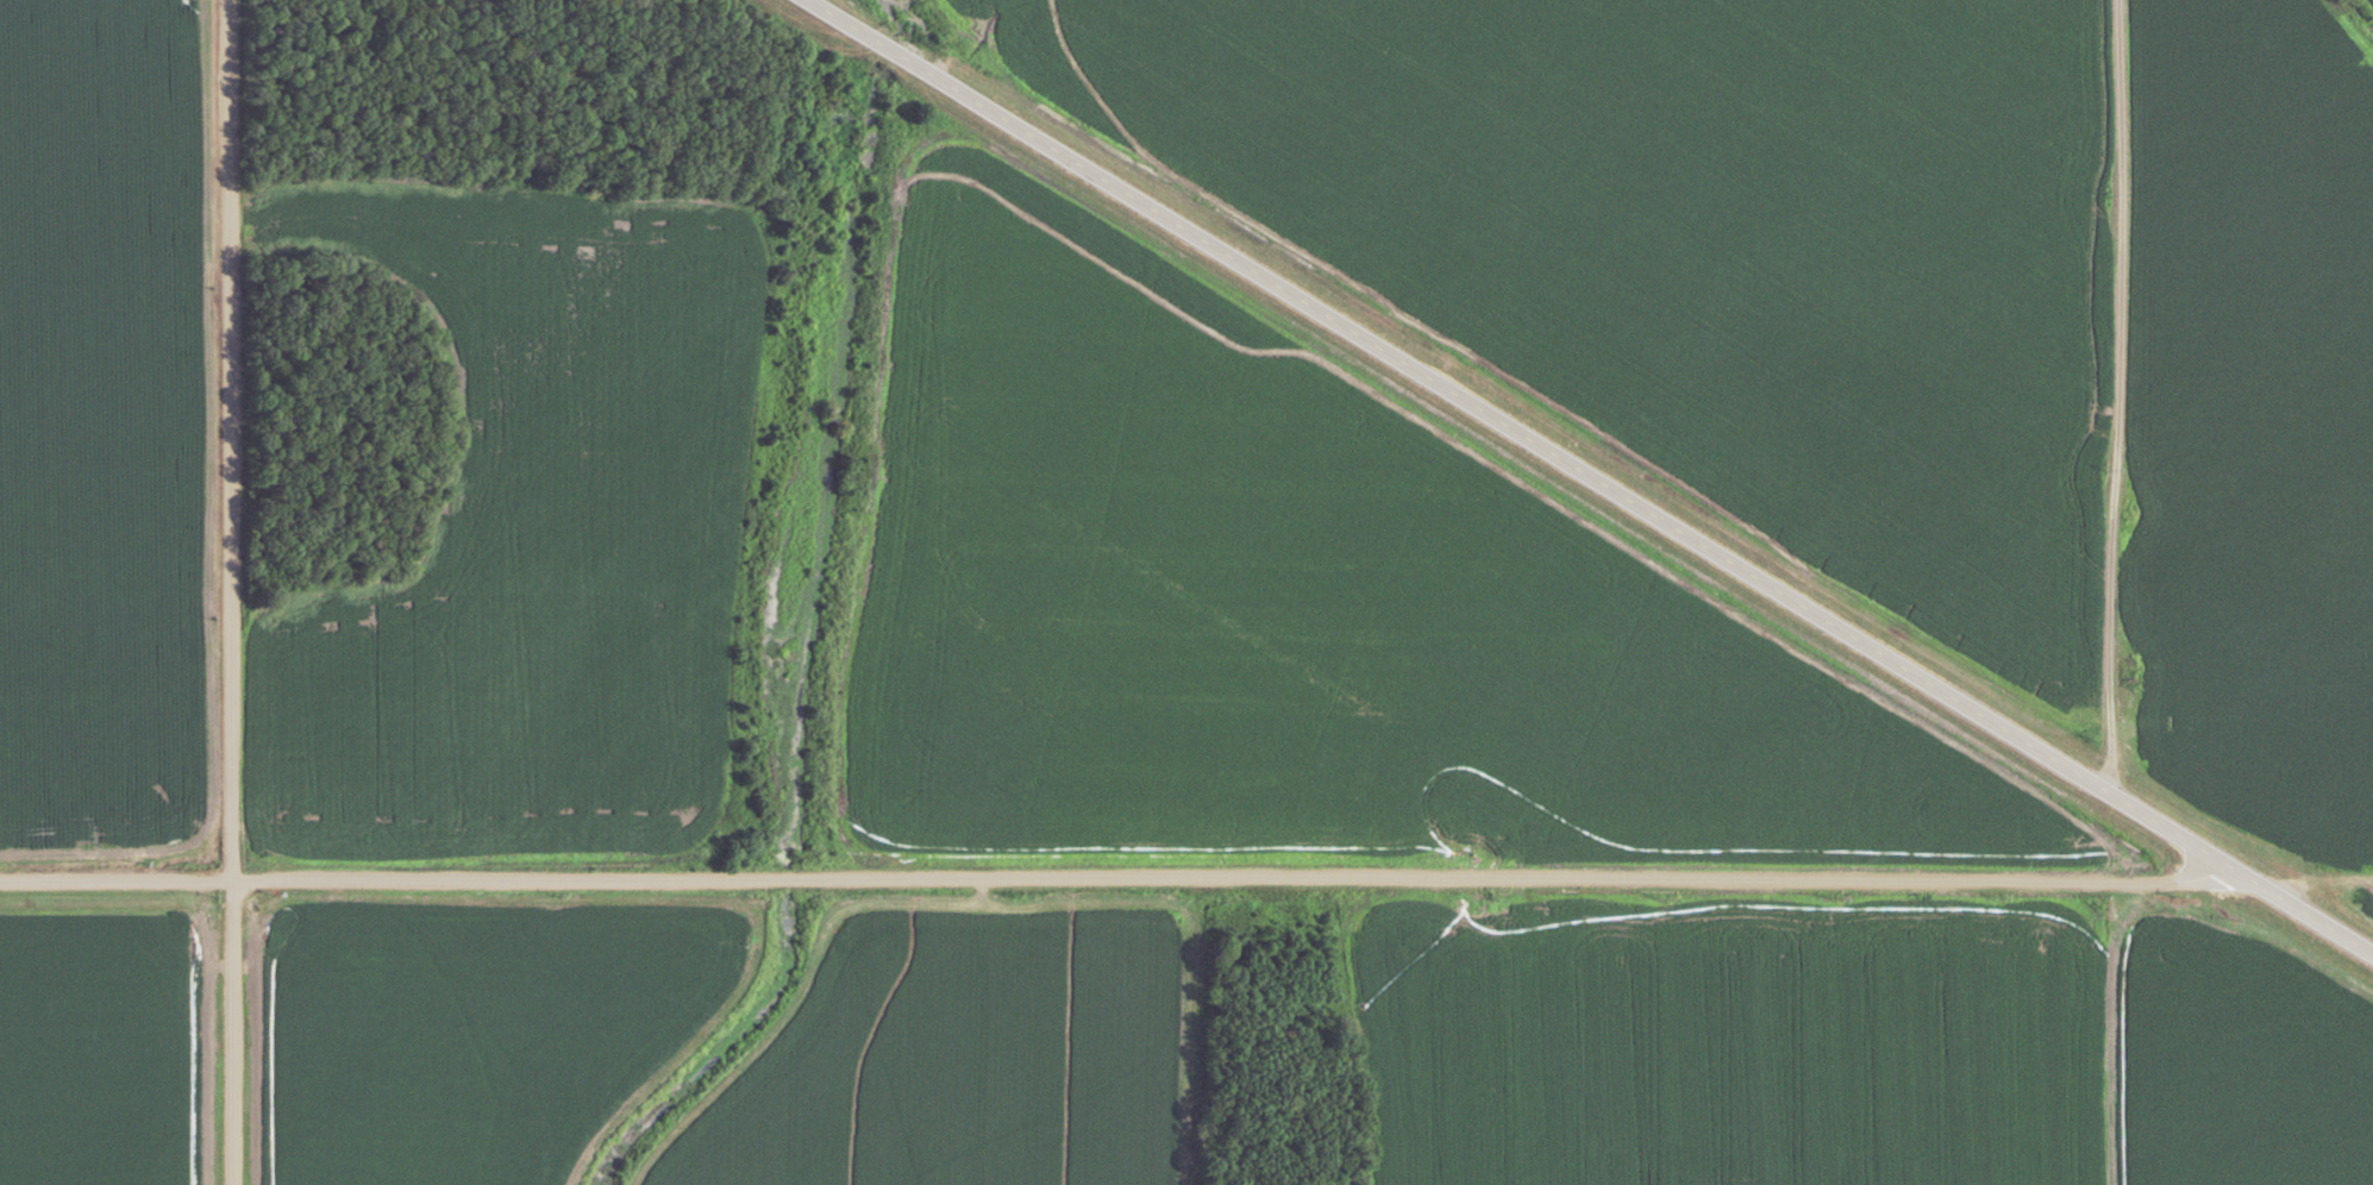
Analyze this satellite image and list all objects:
road: (1586, 479)
road: (230, 591)
road: (1121, 876)

